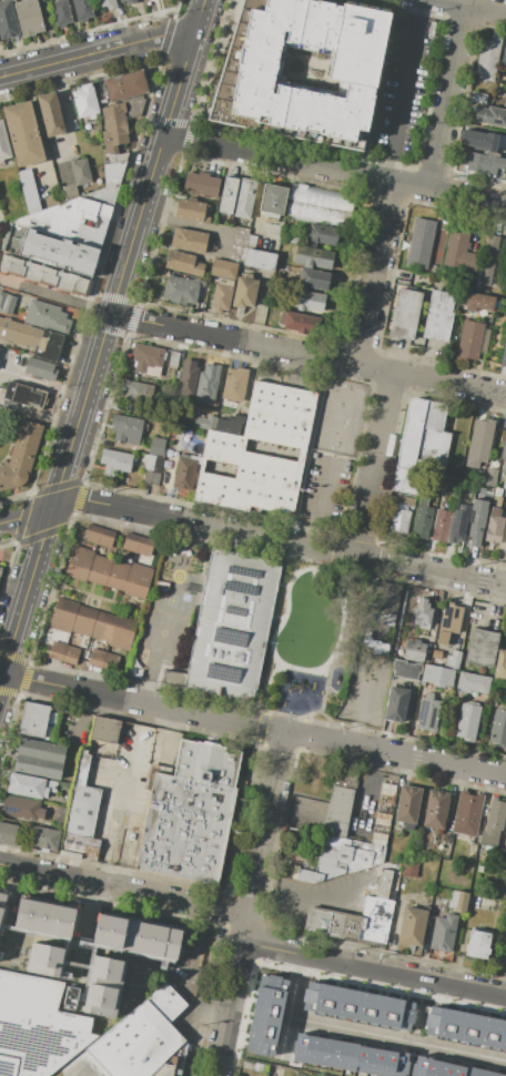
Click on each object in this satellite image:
building: (121, 0)
building: (130, 1)
road: (448, 1)
building: (108, 3)
road: (472, 7)
building: (82, 9)
building: (60, 12)
building: (28, 17)
building: (7, 20)
road: (98, 50)
building: (504, 55)
building: (488, 59)
building: (353, 64)
building: (125, 85)
road: (403, 90)
road: (448, 98)
building: (478, 98)
building: (505, 99)
building: (84, 102)
building: (50, 113)
road: (63, 115)
building: (490, 115)
building: (22, 133)
building: (114, 133)
road: (39, 134)
building: (479, 140)
building: (3, 145)
building: (485, 163)
building: (80, 171)
road: (334, 171)
building: (201, 184)
building: (29, 190)
building: (227, 195)
building: (244, 197)
building: (273, 199)
building: (318, 205)
building: (192, 211)
building: (79, 212)
building: (322, 235)
building: (189, 240)
building: (251, 241)
building: (240, 243)
building: (419, 243)
building: (49, 250)
building: (459, 251)
building: (313, 257)
building: (260, 260)
building: (488, 260)
building: (184, 263)
building: (502, 267)
building: (223, 268)
building: (43, 275)
road: (376, 275)
building: (313, 280)
building: (180, 290)
building: (244, 292)
road: (54, 296)
building: (221, 297)
building: (308, 301)
building: (475, 301)
building: (6, 303)
building: (404, 314)
building: (45, 315)
building: (438, 315)
building: (300, 322)
building: (19, 333)
road: (101, 339)
building: (469, 341)
building: (49, 345)
building: (0, 351)
building: (504, 354)
road: (307, 356)
building: (173, 358)
building: (148, 359)
building: (40, 369)
building: (188, 378)
building: (206, 383)
building: (234, 384)
road: (45, 385)
building: (135, 393)
building: (24, 395)
park: (338, 414)
building: (206, 423)
building: (230, 424)
building: (126, 429)
building: (482, 438)
building: (223, 443)
building: (421, 444)
building: (504, 455)
building: (20, 456)
building: (114, 461)
building: (154, 461)
road: (373, 465)
building: (184, 474)
building: (487, 477)
building: (499, 483)
parking lot: (324, 493)
building: (497, 493)
building: (423, 499)
building: (407, 501)
building: (496, 501)
road: (321, 505)
traffic signals: (51, 508)
building: (495, 511)
building: (398, 518)
building: (422, 521)
building: (448, 525)
building: (480, 525)
building: (493, 530)
building: (91, 534)
road: (251, 534)
building: (105, 538)
building: (131, 542)
building: (144, 546)
building: (505, 552)
road: (283, 559)
building: (79, 562)
building: (99, 569)
building: (0, 570)
building: (118, 576)
building: (138, 580)
road: (283, 585)
building: (160, 586)
park: (173, 601)
road: (498, 601)
building: (382, 608)
road: (286, 611)
building: (421, 612)
building: (63, 615)
road: (277, 616)
building: (451, 617)
building: (84, 620)
building: (102, 626)
building: (231, 626)
building: (122, 632)
park: (163, 633)
building: (442, 638)
park: (310, 640)
building: (482, 647)
road: (335, 649)
building: (57, 650)
building: (414, 651)
building: (70, 654)
building: (97, 658)
building: (453, 660)
road: (2, 662)
building: (110, 662)
building: (500, 666)
building: (406, 670)
building: (134, 672)
building: (438, 676)
building: (473, 682)
parking lot: (365, 687)
road: (260, 692)
road: (361, 704)
building: (395, 704)
building: (427, 715)
building: (33, 719)
building: (467, 722)
road: (330, 723)
road: (253, 725)
building: (498, 727)
building: (104, 729)
building: (39, 758)
building: (206, 762)
building: (81, 768)
road: (371, 782)
building: (26, 785)
building: (387, 789)
building: (407, 805)
building: (21, 808)
building: (435, 809)
building: (82, 811)
building: (337, 811)
building: (467, 813)
building: (382, 819)
building: (494, 821)
building: (185, 829)
road: (110, 830)
building: (505, 834)
building: (29, 836)
building: (378, 839)
building: (79, 846)
building: (500, 855)
building: (340, 857)
building: (301, 860)
building: (409, 867)
building: (480, 869)
building: (458, 901)
building: (1, 902)
road: (323, 902)
road: (250, 904)
building: (44, 916)
building: (356, 917)
road: (350, 925)
building: (413, 926)
road: (253, 928)
building: (444, 932)
building: (136, 937)
building: (477, 944)
road: (345, 950)
building: (43, 960)
building: (103, 984)
building: (37, 1002)
road: (292, 1003)
building: (356, 1005)
building: (264, 1014)
building: (464, 1028)
building: (141, 1037)
road: (397, 1038)
building: (38, 1046)
building: (347, 1056)
building: (82, 1066)
building: (445, 1068)
building: (153, 1075)

